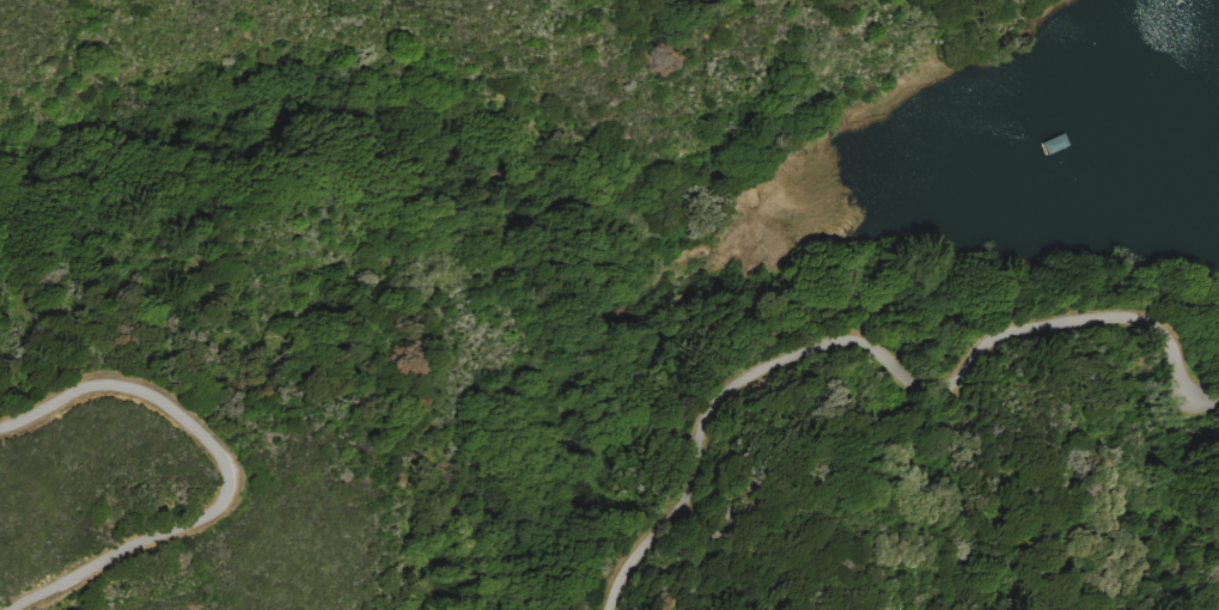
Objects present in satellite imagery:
road: (882, 347)
road: (224, 469)

